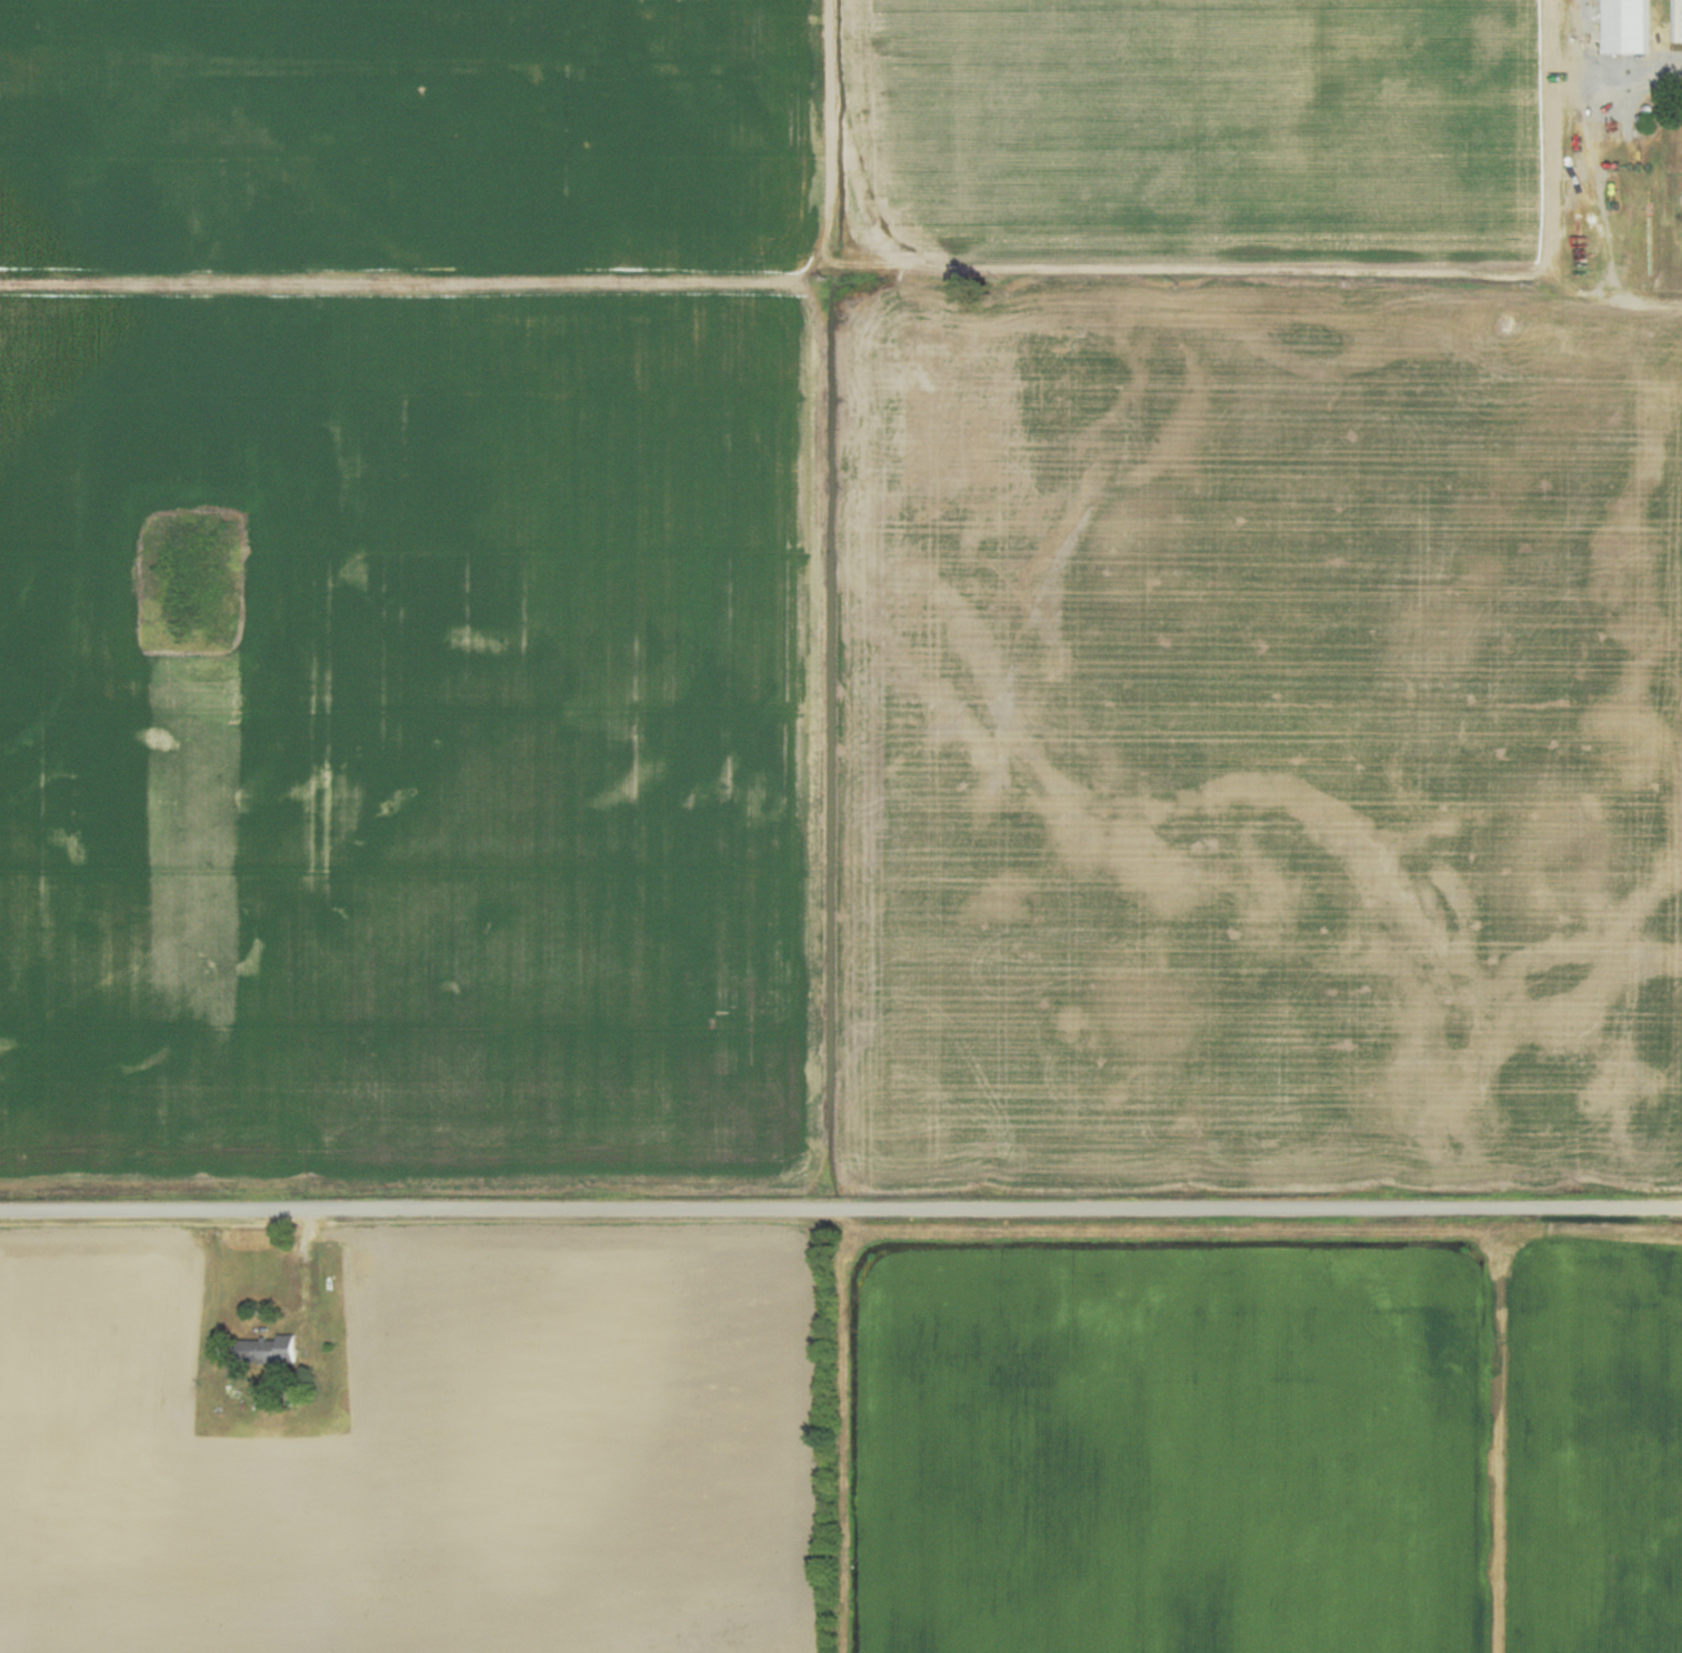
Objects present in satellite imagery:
building: (1678, 21)
building: (598, 22)
building: (1628, 26)
road: (292, 69)
building: (529, 103)
building: (418, 110)
road: (1190, 301)
park: (189, 580)
road: (841, 1205)
building: (270, 1345)

